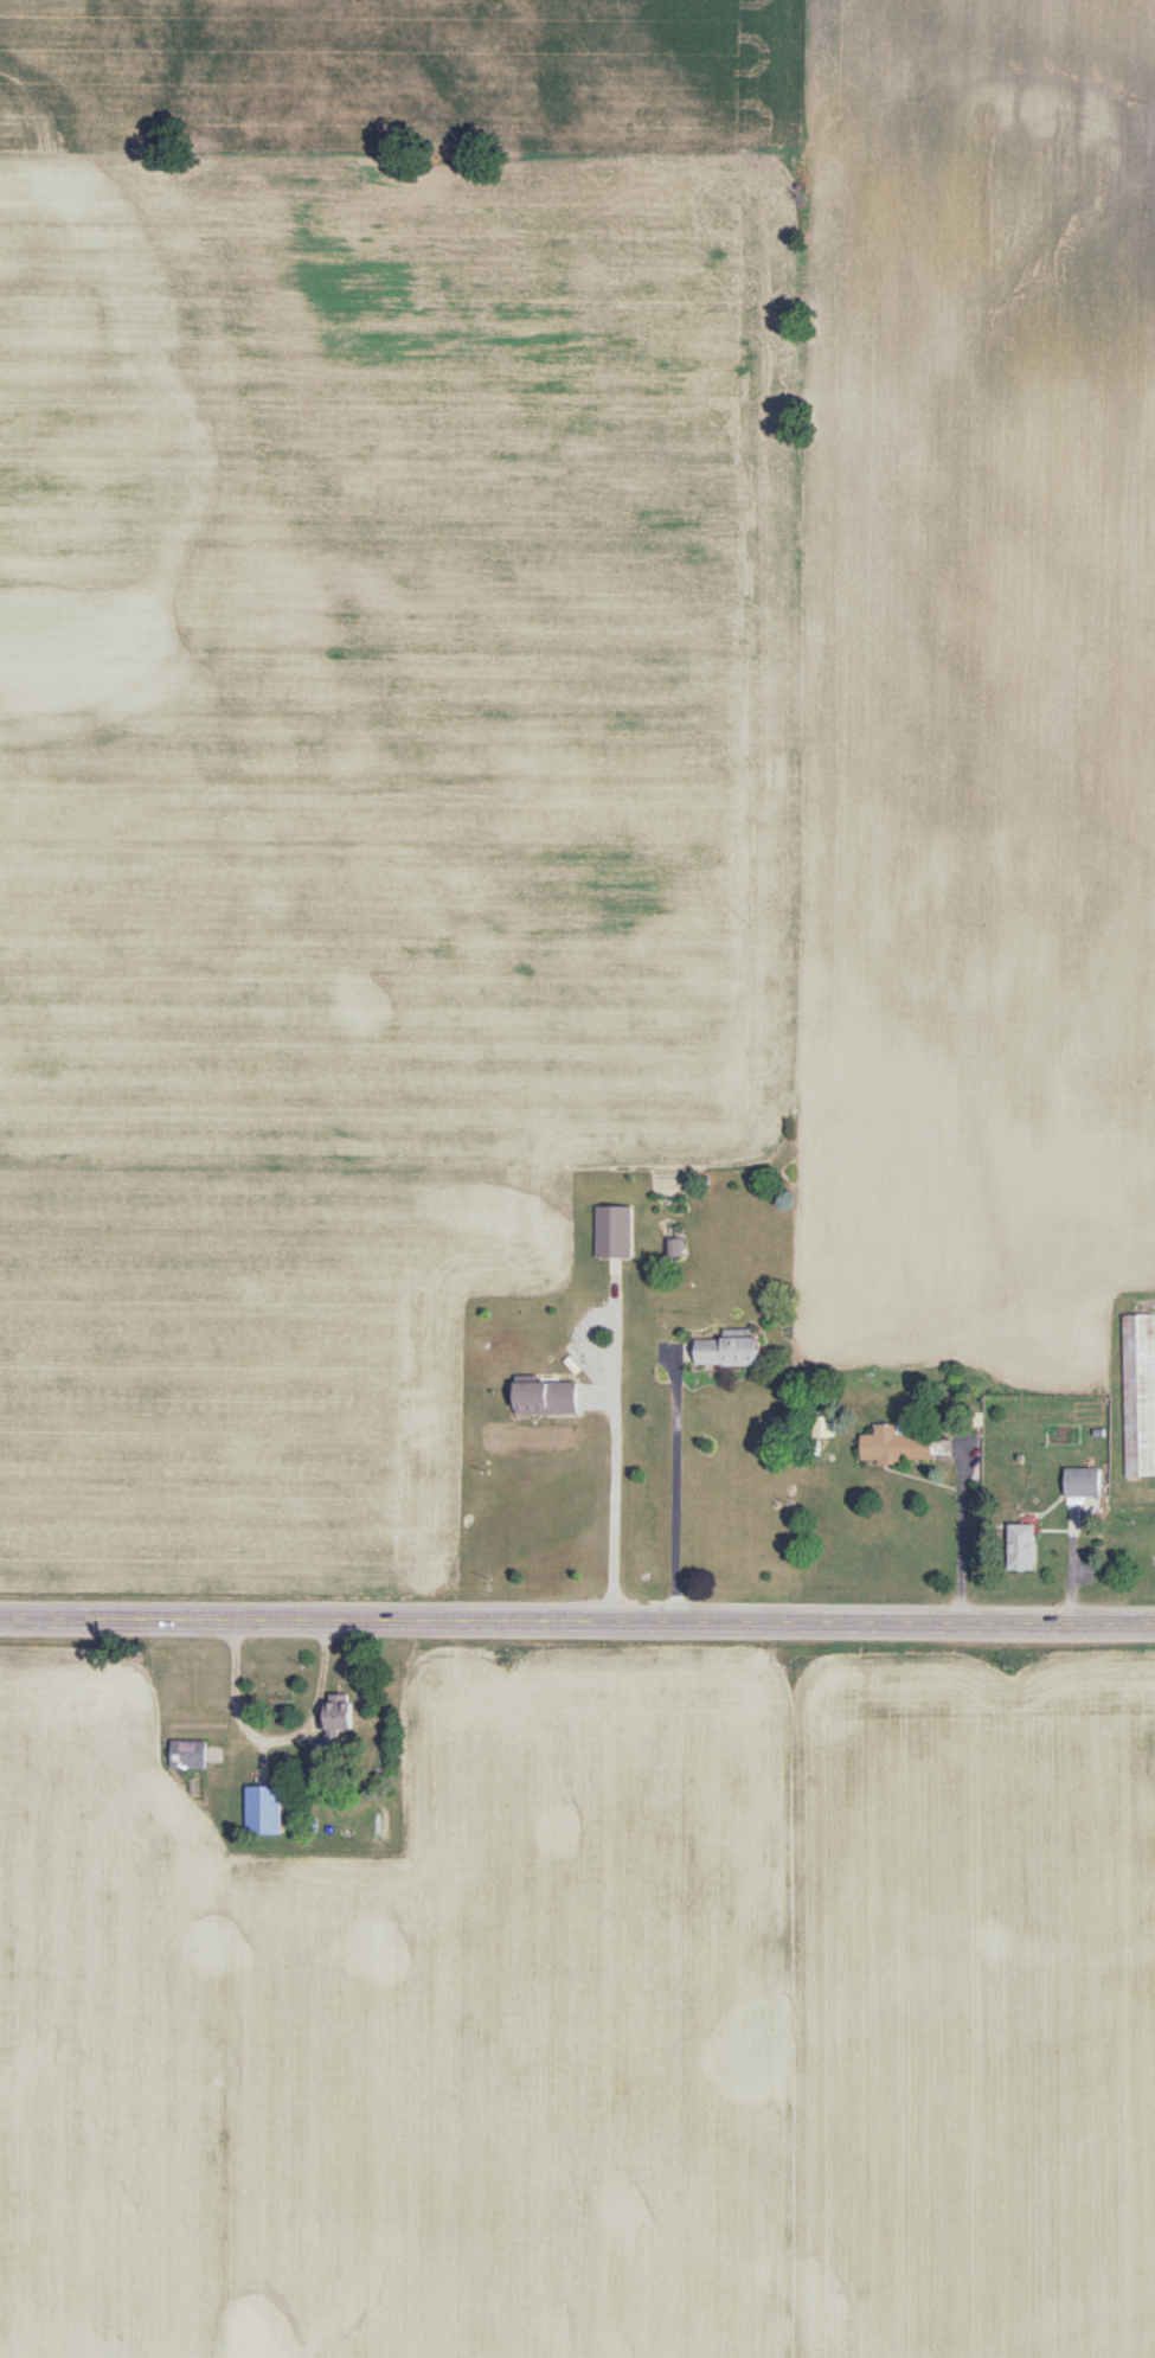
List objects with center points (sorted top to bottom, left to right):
building: (611, 1234)
building: (672, 1249)
building: (725, 1351)
building: (1137, 1397)
building: (543, 1401)
building: (892, 1449)
road: (590, 1450)
building: (1078, 1485)
road: (1153, 1485)
road: (652, 1489)
road: (941, 1536)
building: (1018, 1550)
road: (577, 1626)
building: (333, 1718)
road: (254, 1730)
building: (184, 1758)
building: (257, 1814)

